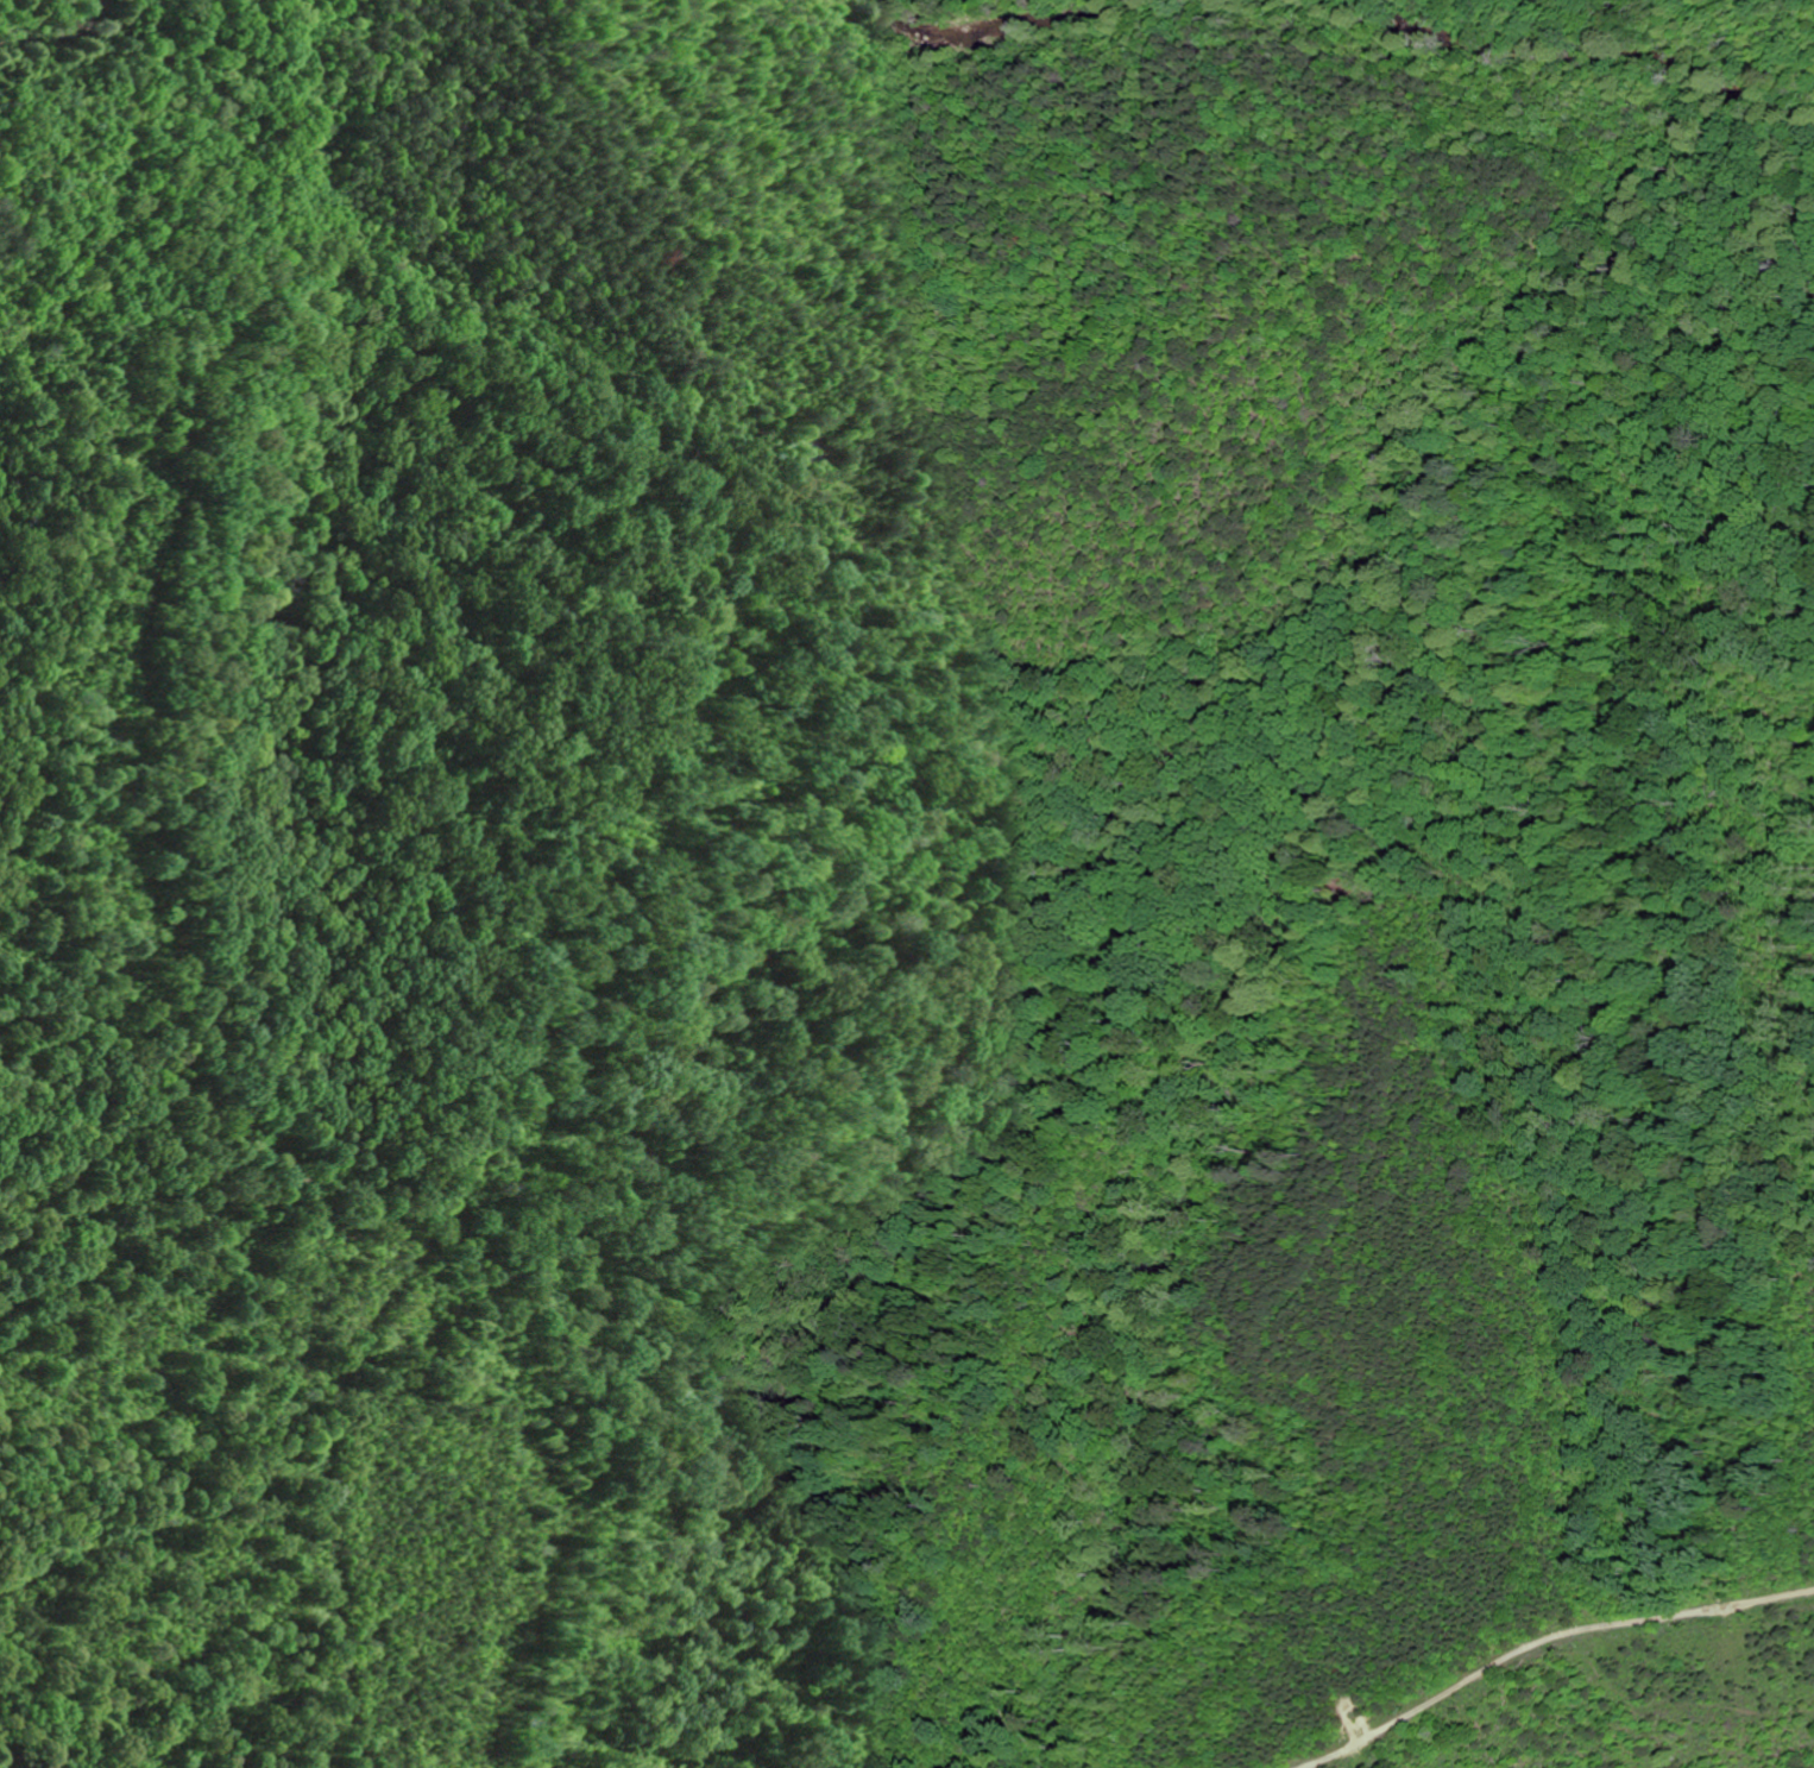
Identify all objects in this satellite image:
road: (1549, 1644)

